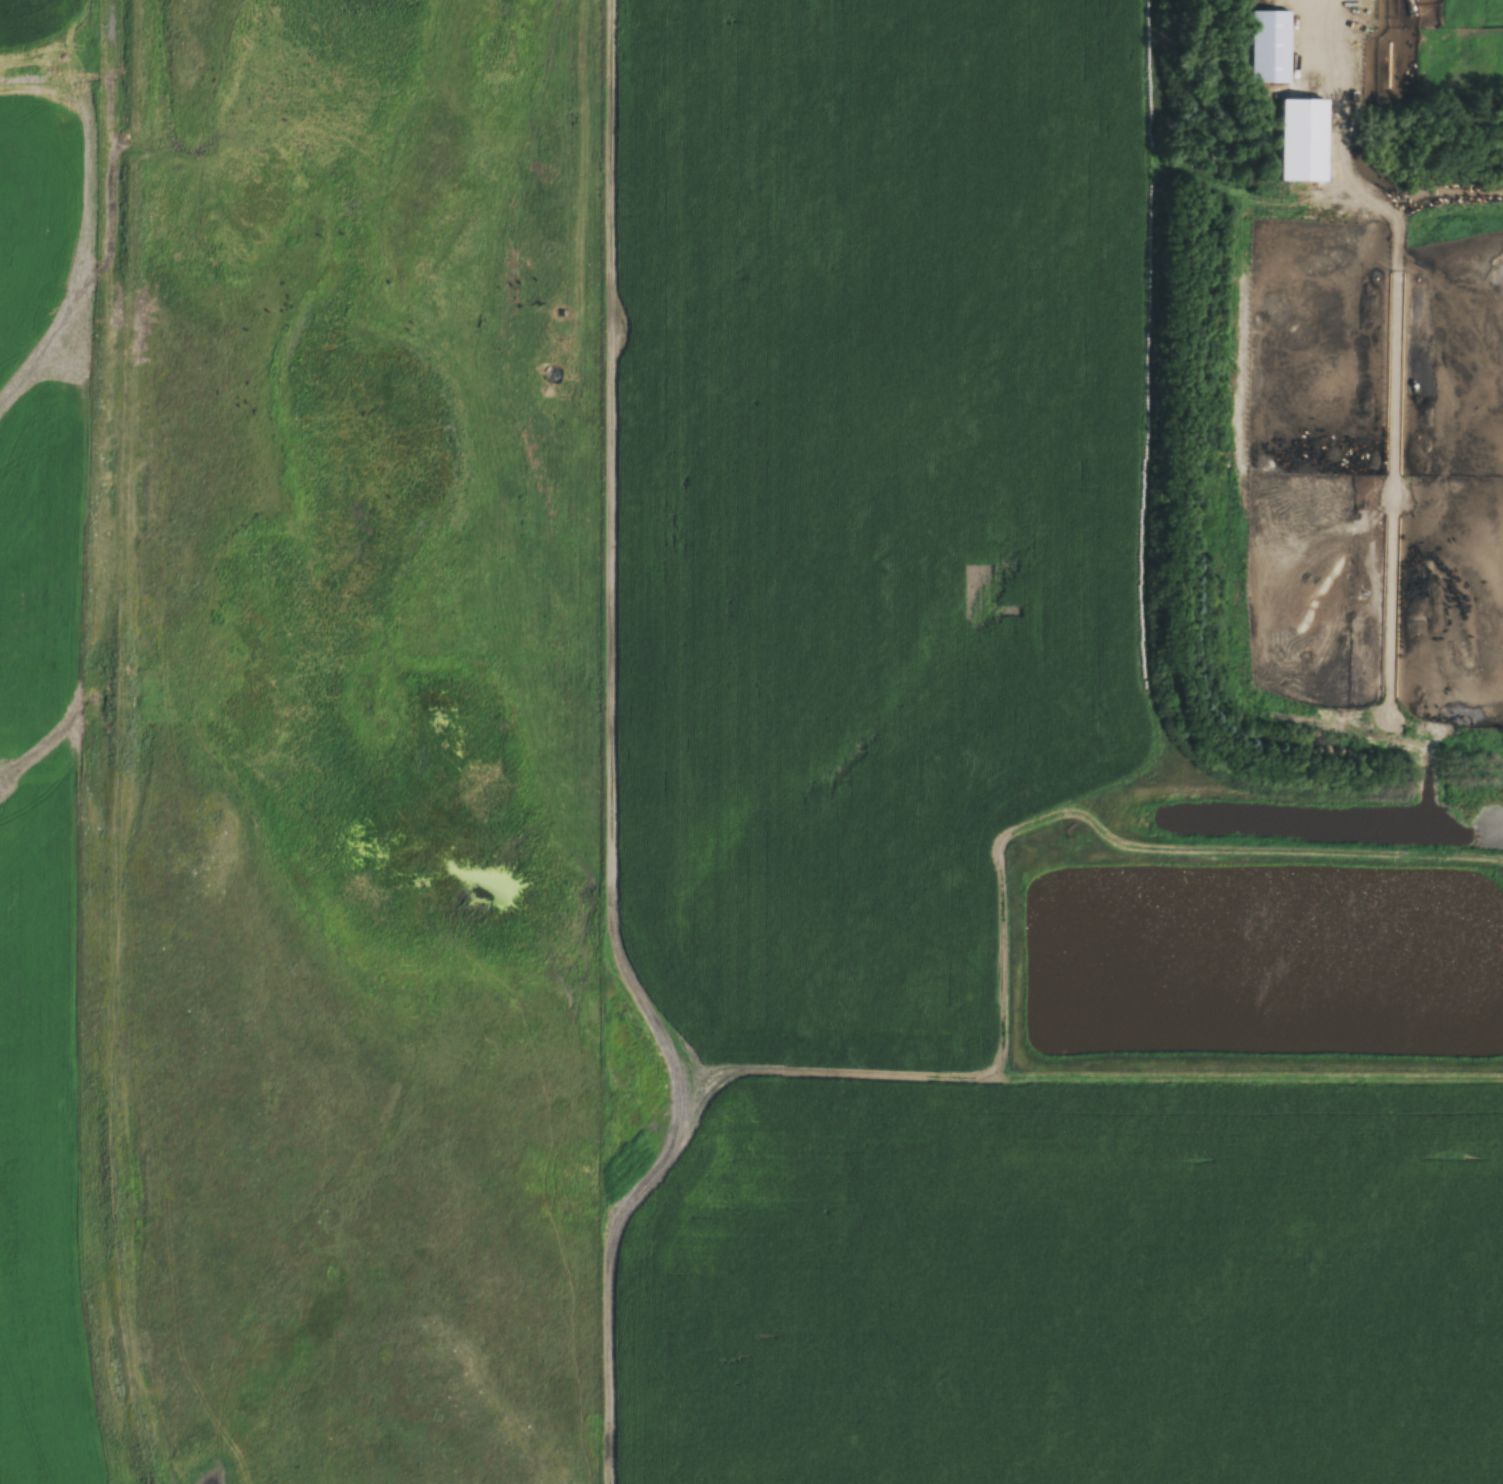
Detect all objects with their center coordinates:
building: (1465, 41)
building: (1272, 48)
building: (1305, 141)
road: (1447, 188)
road: (1312, 718)

